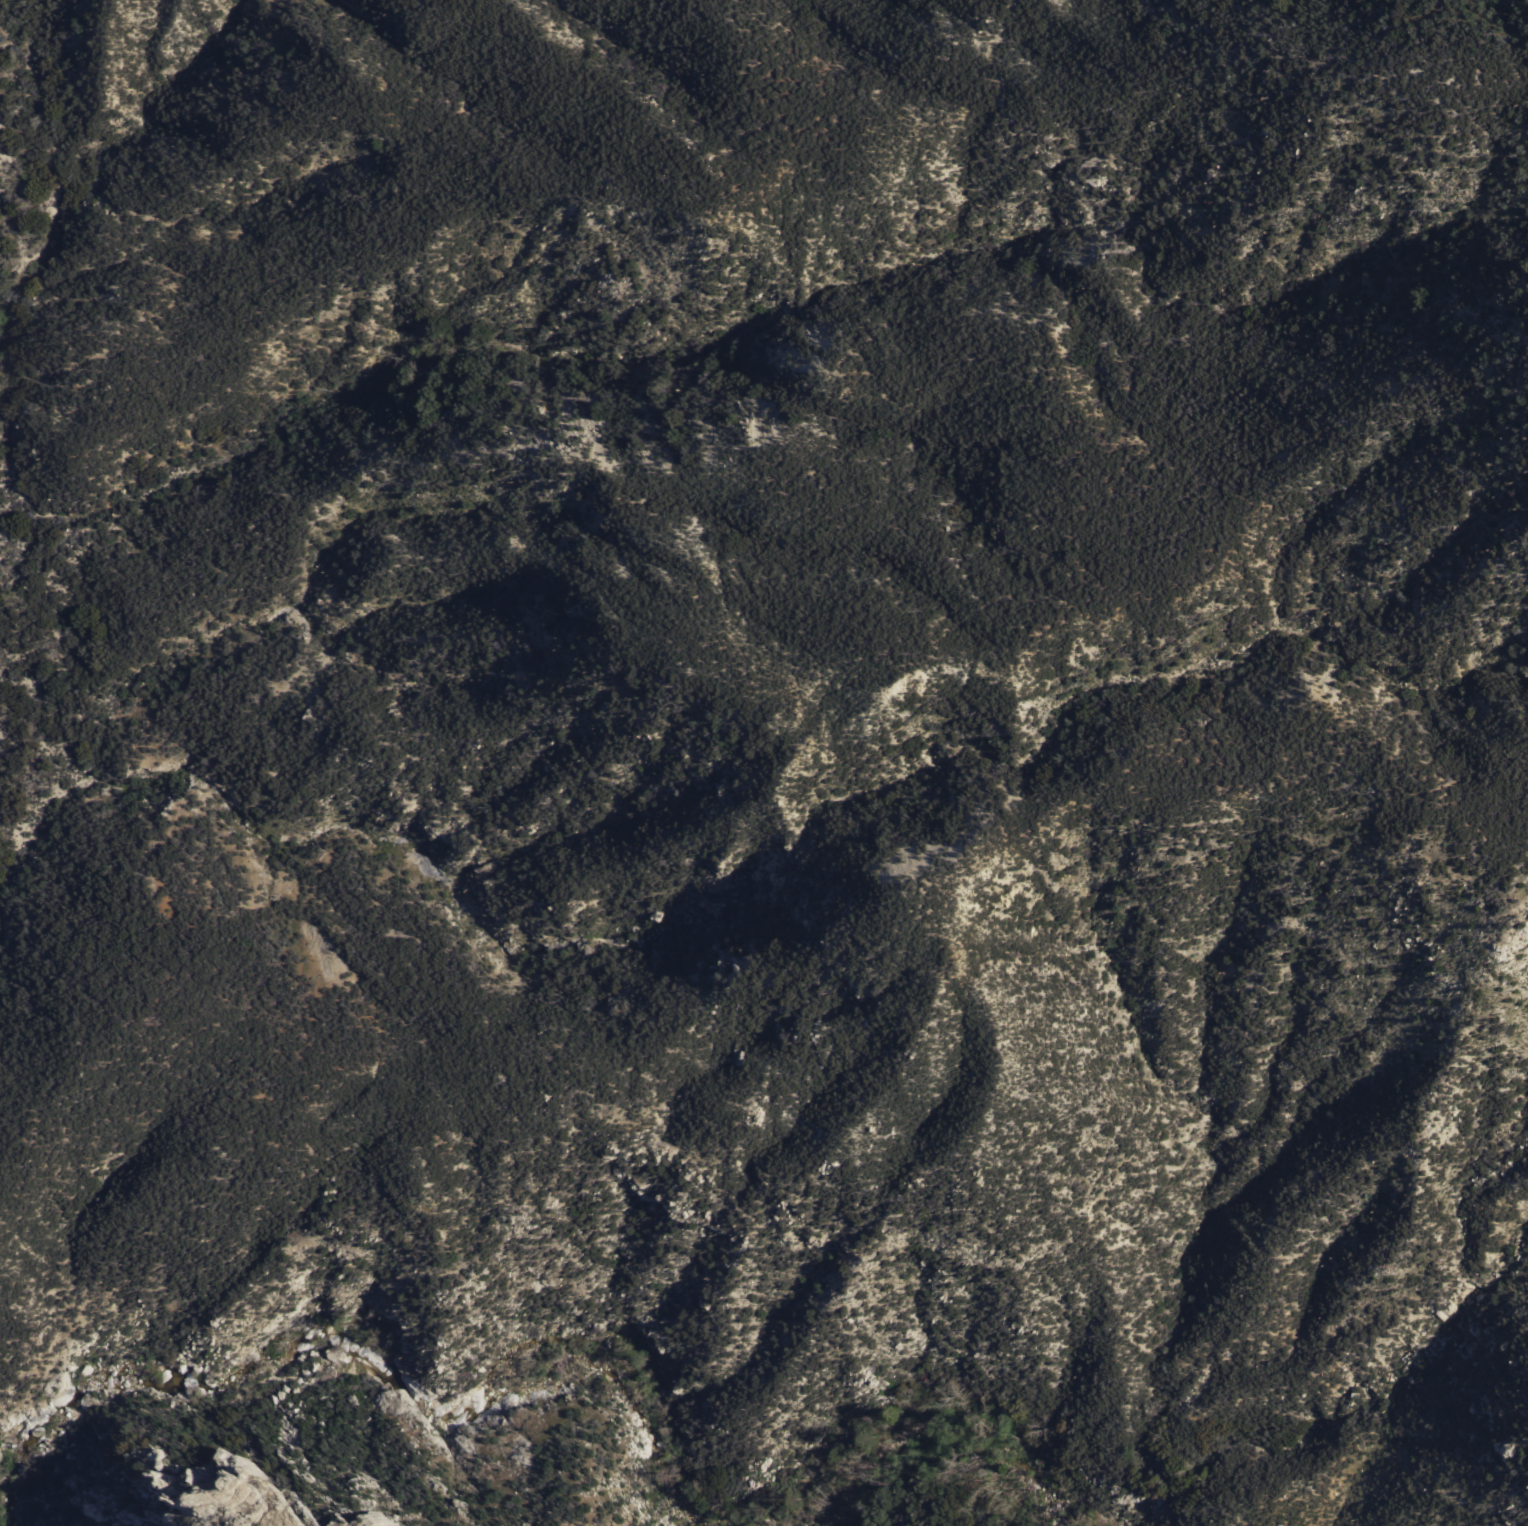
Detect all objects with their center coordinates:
river: (349, 1392)
river: (834, 1518)

